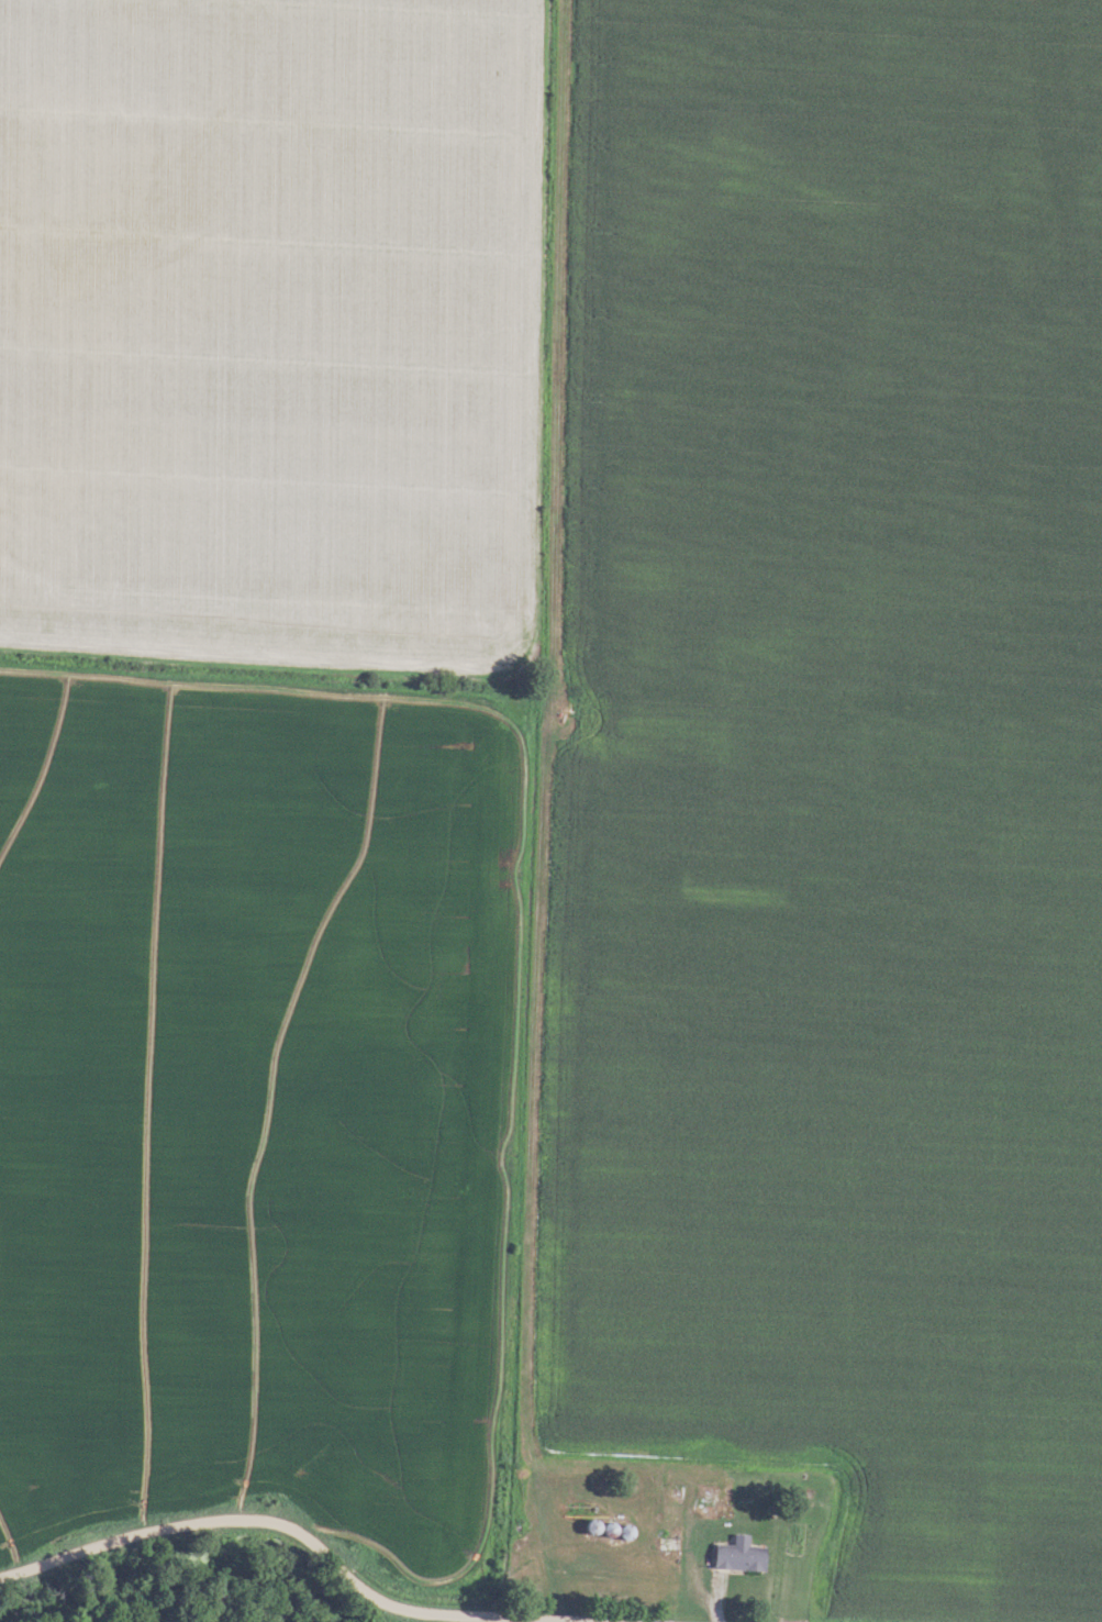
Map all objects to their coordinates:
road: (537, 954)
building: (708, 1500)
building: (663, 1527)
road: (308, 1538)
building: (732, 1555)
road: (624, 1575)

